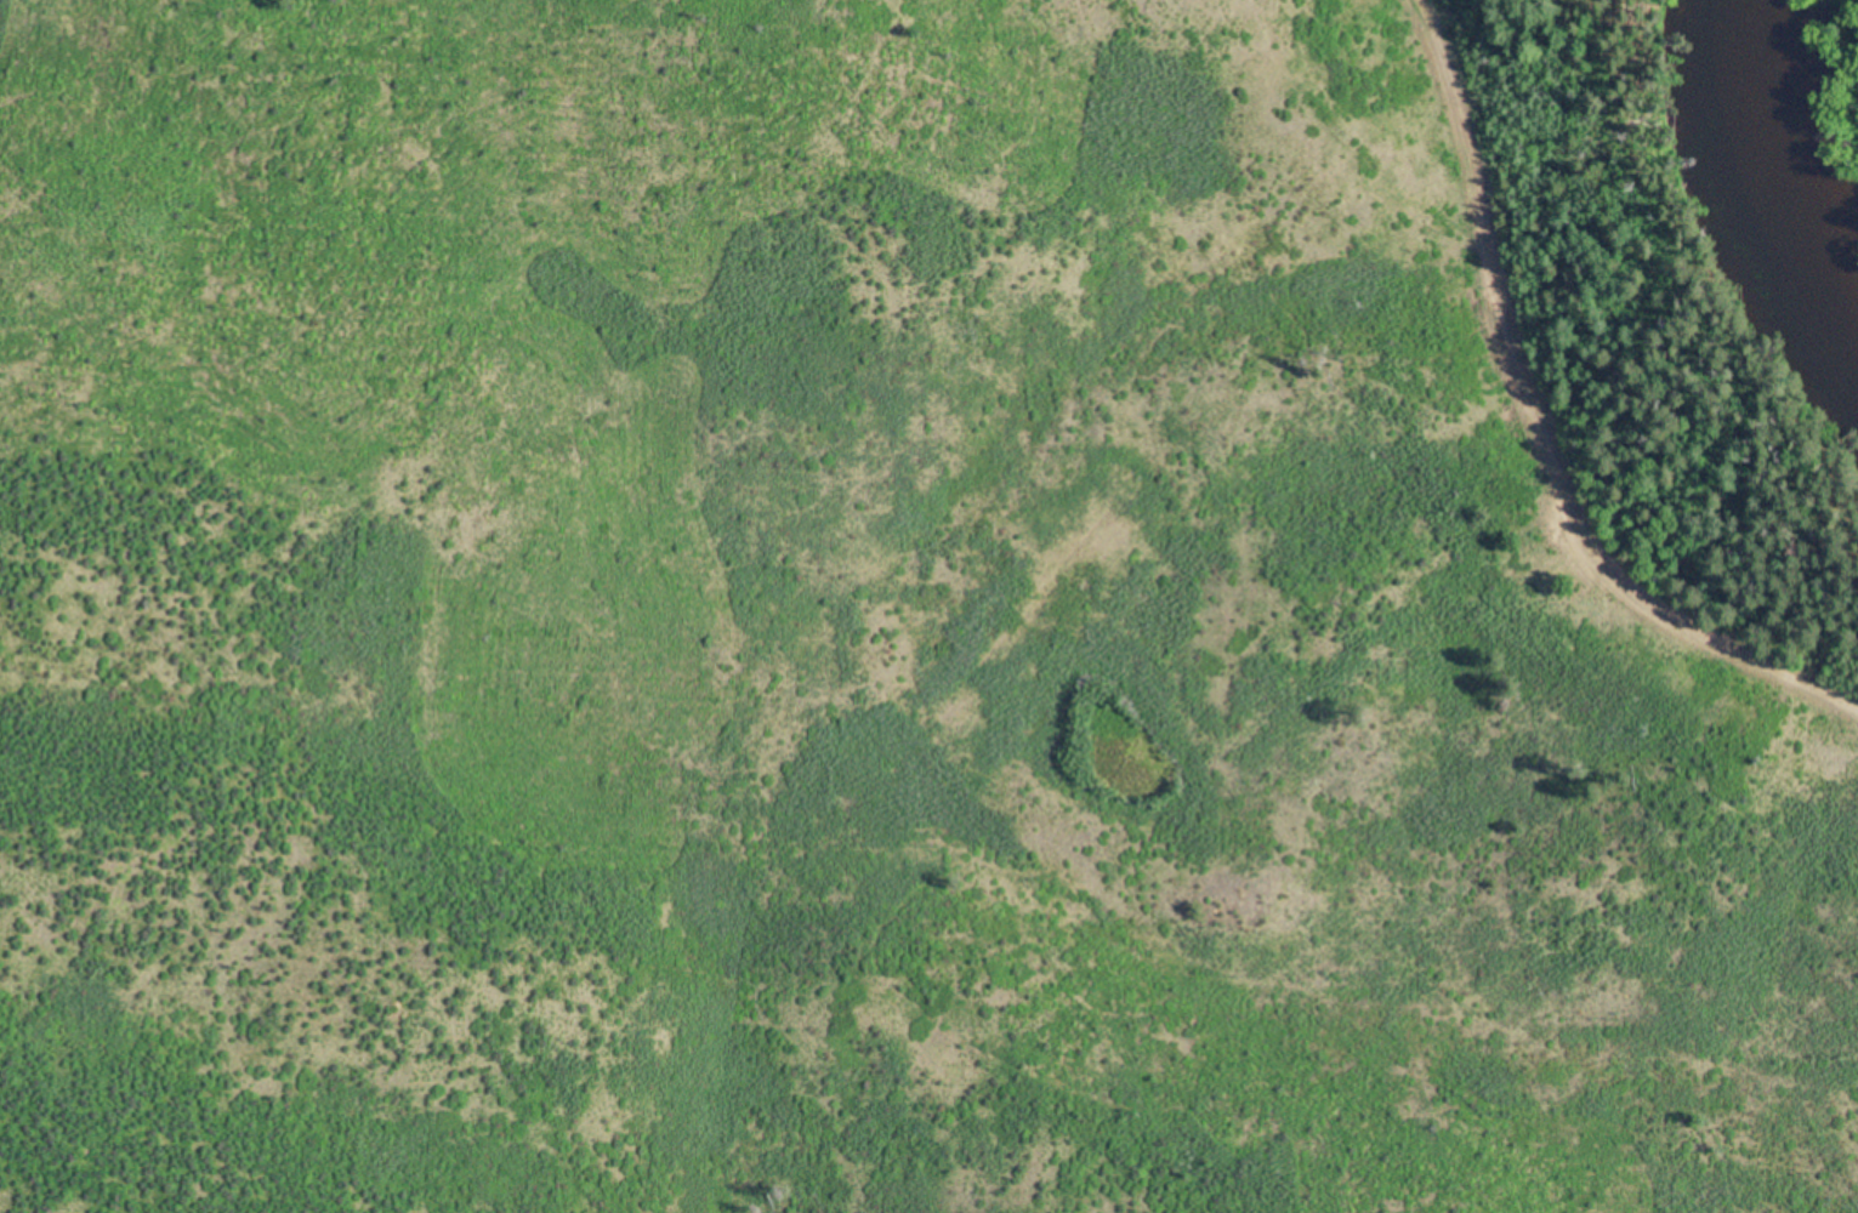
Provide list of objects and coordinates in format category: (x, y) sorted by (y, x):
river: (1792, 163)
road: (1528, 429)

